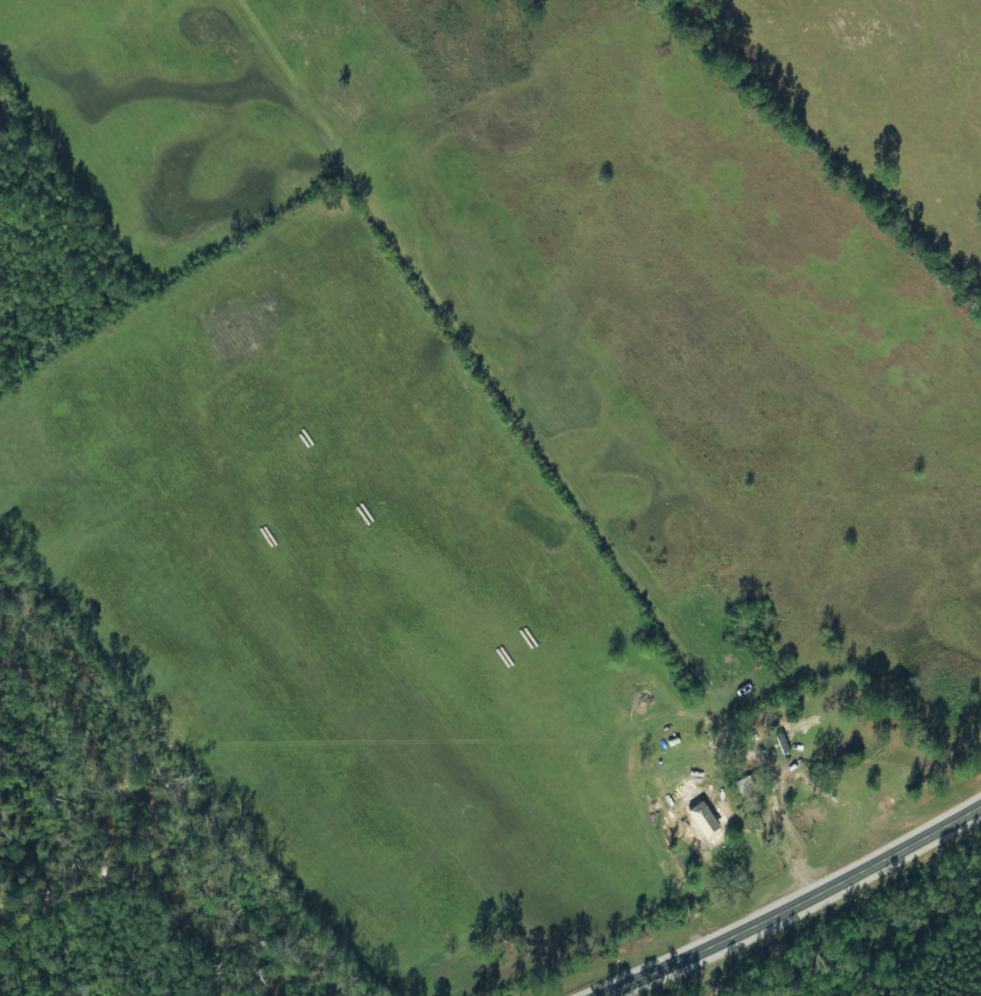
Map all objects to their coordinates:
road: (439, 550)
building: (709, 820)
road: (787, 912)

